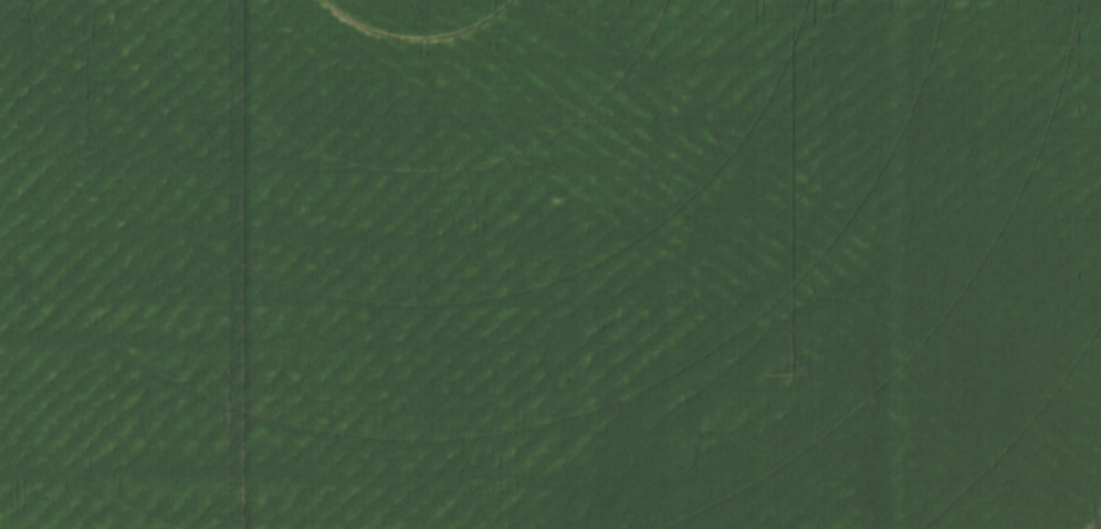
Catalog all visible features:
crop: (550, 264)

